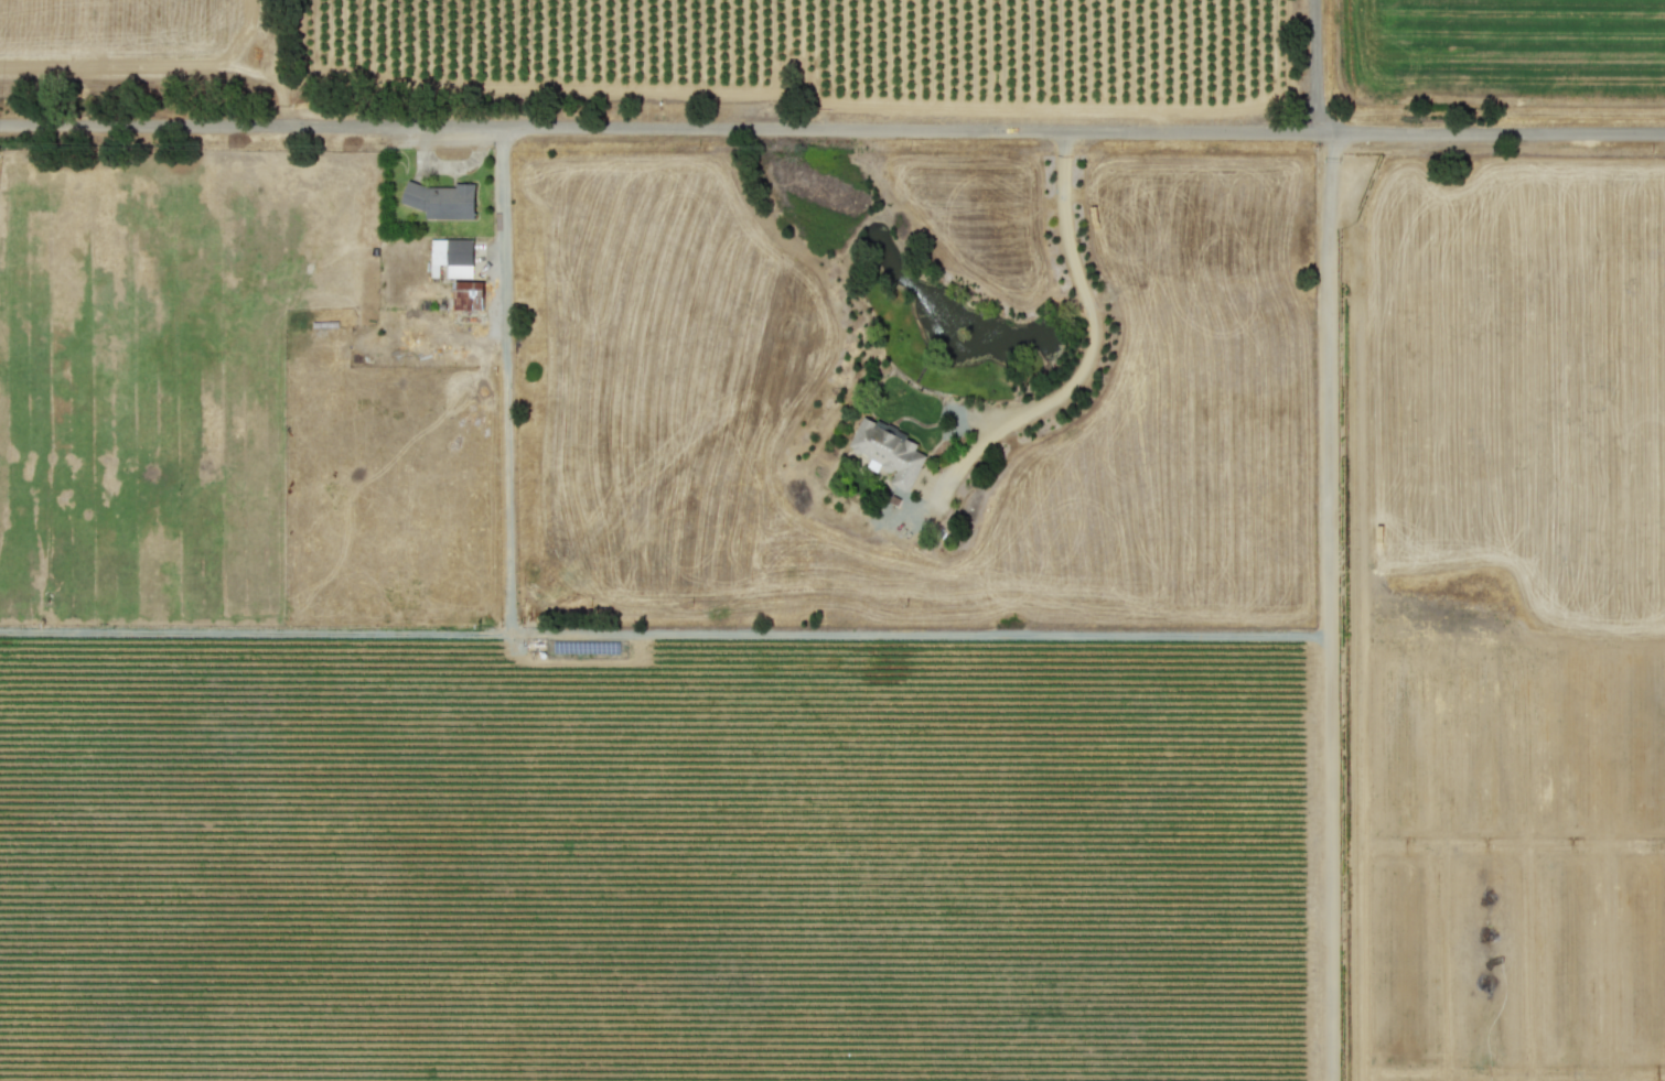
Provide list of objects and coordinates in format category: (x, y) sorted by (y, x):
road: (1318, 65)
road: (832, 127)
building: (448, 152)
building: (397, 156)
building: (441, 199)
building: (451, 256)
road: (1091, 312)
building: (888, 450)
crop: (690, 525)
road: (1322, 605)
road: (254, 630)
road: (660, 634)

